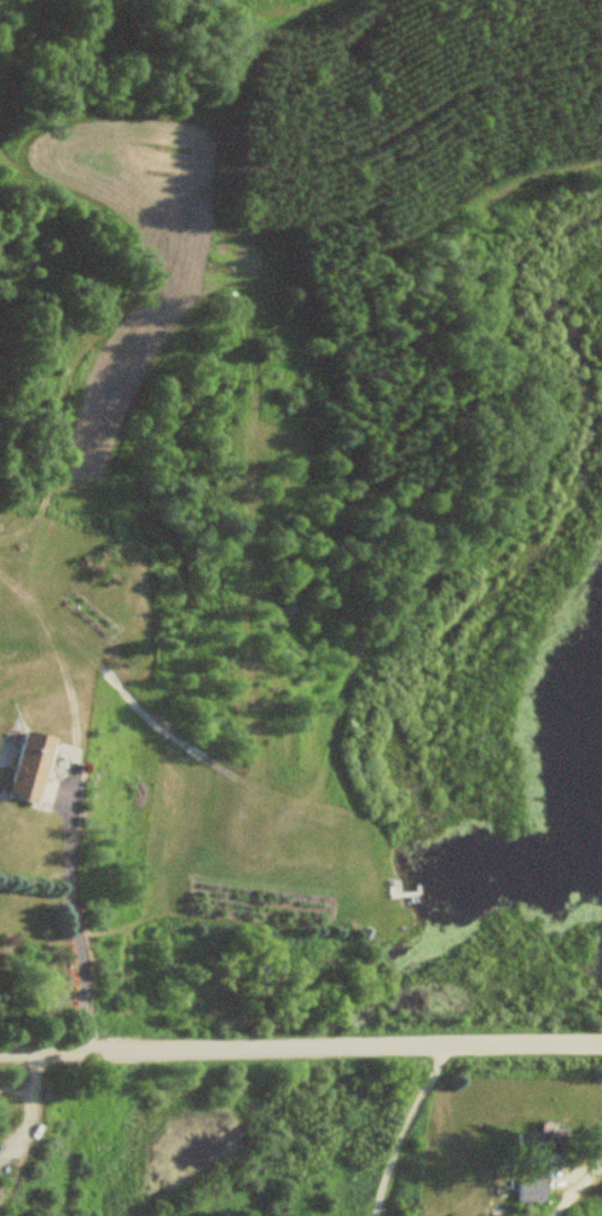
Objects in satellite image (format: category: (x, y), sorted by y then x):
building: (19, 776)
road: (525, 1043)
road: (224, 1048)
road: (406, 1127)
building: (536, 1145)
building: (529, 1191)

